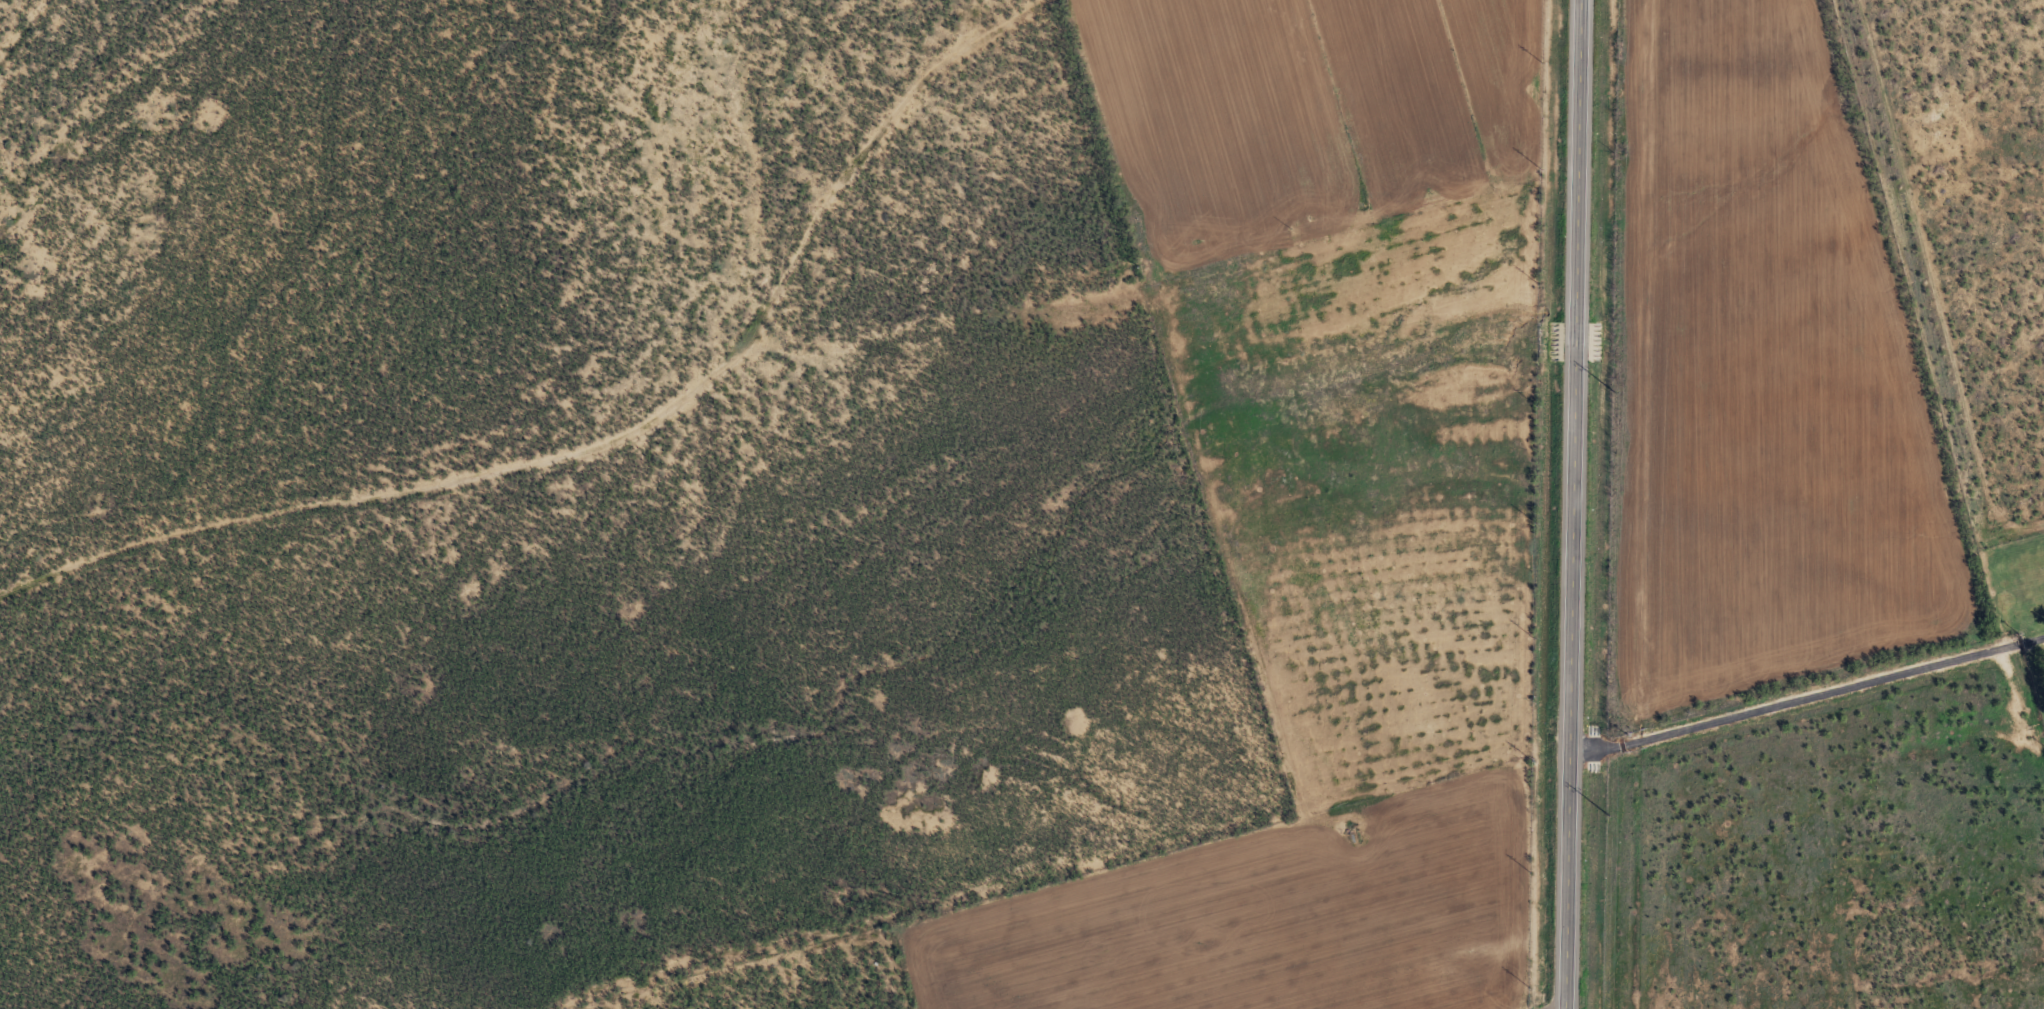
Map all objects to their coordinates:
power tower: (1622, 375)
road: (1576, 504)
power tower: (1607, 816)

